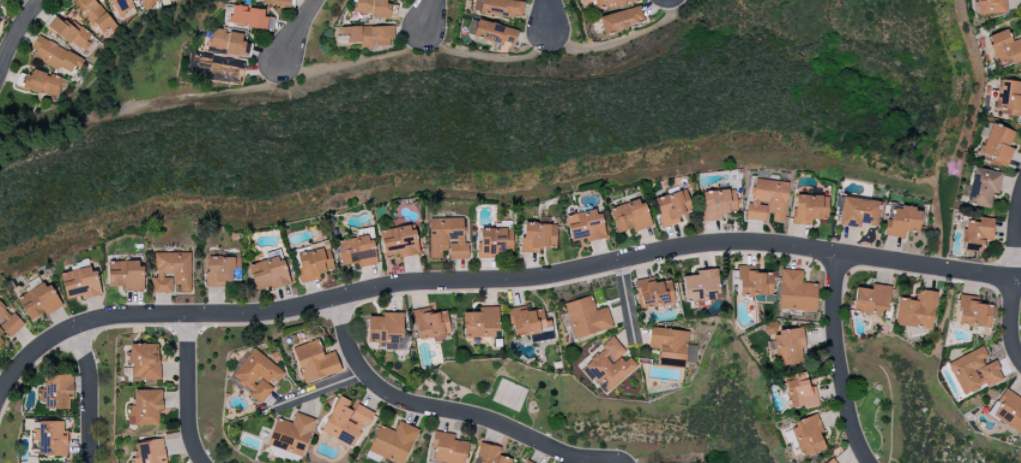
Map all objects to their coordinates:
road: (26, 3)
building: (275, 3)
building: (610, 3)
building: (146, 4)
building: (119, 6)
building: (990, 6)
building: (371, 8)
building: (502, 8)
building: (93, 15)
road: (430, 15)
road: (548, 16)
building: (249, 17)
building: (621, 20)
building: (0, 21)
road: (297, 30)
building: (69, 32)
building: (495, 34)
road: (16, 35)
building: (366, 36)
building: (226, 42)
building: (1004, 49)
building: (55, 56)
road: (354, 62)
building: (219, 68)
building: (44, 84)
building: (1008, 98)
building: (997, 146)
building: (983, 187)
building: (767, 200)
building: (717, 204)
building: (671, 207)
building: (809, 209)
building: (858, 212)
building: (629, 216)
building: (902, 222)
building: (585, 226)
building: (976, 234)
building: (538, 237)
building: (447, 238)
building: (401, 242)
building: (495, 242)
building: (356, 251)
building: (313, 264)
building: (222, 270)
building: (172, 272)
building: (269, 274)
building: (126, 276)
road: (1015, 277)
road: (496, 279)
building: (79, 283)
building: (753, 283)
building: (700, 286)
building: (796, 292)
building: (654, 293)
road: (627, 300)
building: (38, 301)
building: (872, 301)
building: (916, 311)
building: (973, 313)
building: (586, 318)
building: (481, 322)
building: (528, 322)
building: (7, 324)
building: (430, 325)
building: (384, 328)
building: (786, 344)
building: (668, 346)
road: (838, 360)
building: (143, 362)
building: (314, 362)
building: (609, 366)
building: (974, 371)
building: (255, 375)
road: (188, 390)
building: (799, 391)
building: (56, 392)
road: (88, 393)
park: (509, 395)
park: (503, 400)
road: (434, 407)
building: (145, 408)
building: (1007, 410)
park: (869, 417)
building: (346, 422)
building: (291, 434)
building: (807, 435)
building: (51, 439)
building: (392, 443)
building: (447, 449)
building: (149, 452)
building: (490, 454)
building: (831, 461)

